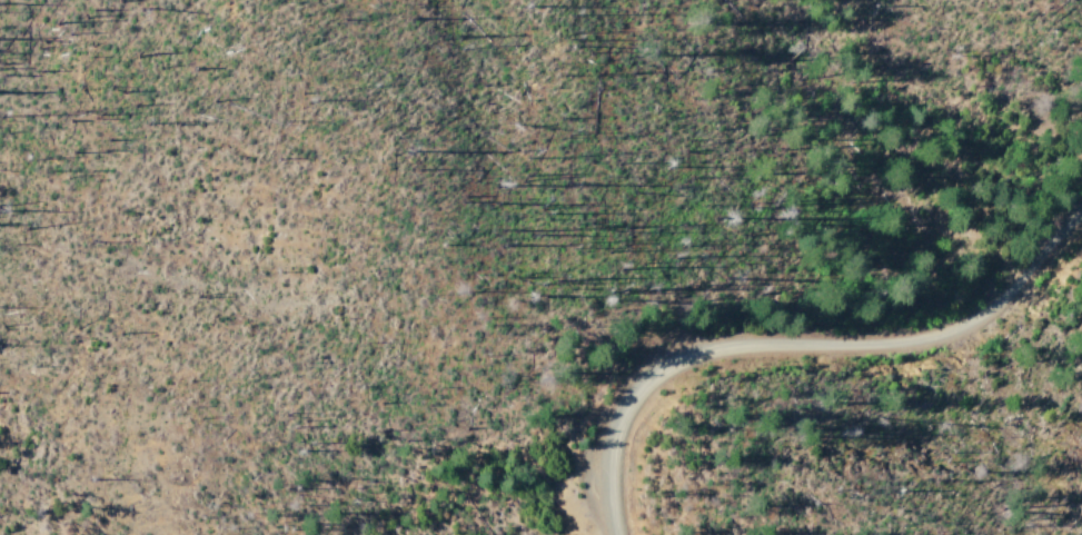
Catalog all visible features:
road: (782, 329)

